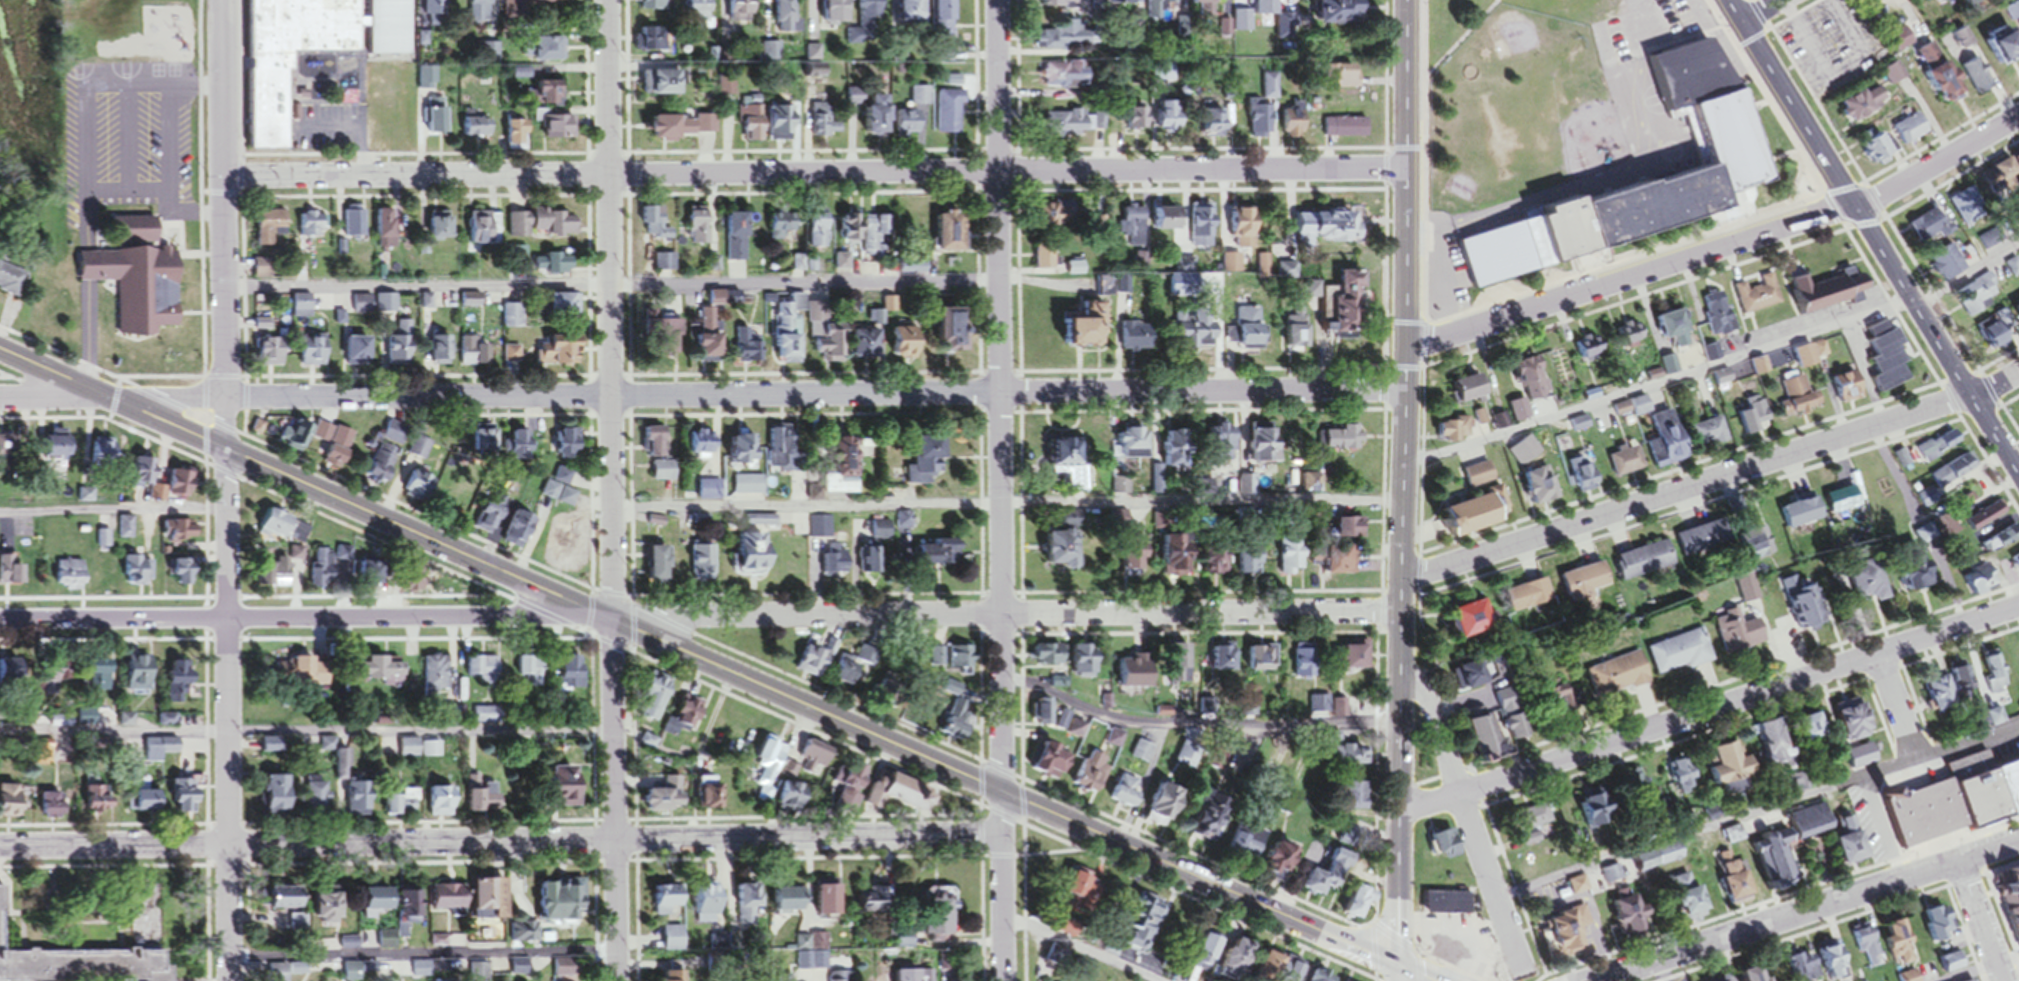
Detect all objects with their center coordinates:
building: (545, 3)
building: (1211, 3)
building: (1121, 4)
building: (1063, 6)
building: (653, 9)
building: (1158, 9)
building: (1261, 10)
road: (1761, 11)
building: (742, 12)
building: (871, 13)
building: (435, 14)
building: (482, 14)
building: (836, 14)
building: (913, 14)
building: (700, 15)
building: (1341, 15)
building: (787, 18)
building: (943, 19)
building: (389, 29)
building: (1068, 40)
building: (1902, 40)
building: (654, 43)
building: (2003, 46)
building: (552, 54)
building: (1348, 74)
building: (1973, 77)
building: (1067, 78)
building: (1949, 86)
building: (663, 87)
building: (726, 89)
building: (1269, 92)
building: (553, 96)
building: (920, 100)
building: (1866, 105)
building: (270, 112)
building: (391, 116)
building: (950, 116)
building: (439, 119)
building: (878, 120)
building: (1171, 120)
building: (1137, 122)
building: (753, 124)
building: (1261, 124)
building: (824, 126)
building: (1294, 126)
building: (909, 127)
building: (1074, 127)
building: (1219, 127)
building: (560, 128)
building: (783, 128)
building: (479, 130)
building: (1346, 130)
building: (675, 132)
building: (519, 137)
building: (1728, 147)
building: (1876, 149)
road: (1937, 162)
road: (815, 172)
building: (2007, 172)
building: (1967, 210)
building: (1056, 218)
building: (1170, 222)
building: (653, 223)
building: (355, 226)
building: (556, 226)
building: (313, 227)
building: (388, 227)
building: (519, 227)
building: (782, 227)
building: (442, 228)
building: (698, 228)
building: (1129, 228)
building: (1203, 228)
building: (1329, 228)
building: (270, 229)
building: (849, 229)
building: (1927, 229)
building: (1240, 230)
building: (484, 231)
building: (135, 232)
building: (819, 232)
building: (875, 235)
building: (953, 235)
road: (1873, 238)
building: (737, 240)
building: (1045, 259)
building: (665, 265)
building: (1948, 265)
building: (553, 266)
building: (913, 267)
building: (2012, 271)
road: (1629, 276)
building: (12, 283)
road: (612, 286)
building: (140, 290)
building: (1827, 291)
road: (201, 297)
building: (1975, 297)
building: (1758, 298)
building: (472, 303)
building: (386, 306)
building: (567, 308)
building: (1345, 308)
building: (302, 309)
building: (1719, 314)
building: (513, 317)
building: (876, 320)
building: (1674, 327)
building: (1085, 328)
building: (955, 330)
building: (1200, 332)
building: (1998, 332)
building: (788, 333)
building: (1299, 334)
building: (711, 335)
building: (664, 339)
building: (1137, 339)
building: (1254, 340)
building: (1632, 341)
building: (907, 344)
building: (829, 345)
building: (869, 346)
building: (399, 349)
building: (747, 349)
building: (1592, 349)
building: (359, 352)
building: (442, 352)
building: (563, 353)
building: (273, 354)
building: (314, 354)
building: (473, 355)
building: (514, 356)
building: (1806, 358)
building: (1889, 359)
road: (1716, 365)
building: (1534, 381)
road: (1994, 384)
building: (1474, 390)
building: (1850, 390)
road: (702, 395)
building: (1802, 397)
building: (1520, 413)
building: (1749, 424)
building: (1579, 428)
building: (1456, 432)
building: (301, 436)
building: (1711, 436)
building: (1339, 441)
building: (487, 442)
building: (1668, 443)
building: (569, 445)
building: (703, 445)
building: (1134, 445)
building: (1222, 445)
building: (657, 446)
building: (1268, 446)
building: (1938, 448)
building: (7, 449)
building: (58, 450)
building: (420, 451)
building: (339, 452)
building: (1177, 452)
building: (790, 453)
building: (742, 454)
building: (104, 455)
building: (1524, 455)
building: (1071, 457)
building: (929, 461)
building: (1626, 464)
building: (383, 468)
building: (847, 471)
building: (144, 473)
building: (664, 474)
building: (1952, 474)
building: (1480, 478)
building: (1583, 478)
road: (1405, 482)
building: (181, 486)
building: (1121, 489)
building: (1542, 489)
road: (1687, 489)
road: (227, 490)
building: (559, 490)
road: (612, 490)
road: (1001, 490)
building: (420, 491)
building: (710, 493)
building: (1925, 501)
building: (1843, 502)
road: (1008, 510)
building: (1802, 514)
road: (113, 516)
building: (1478, 517)
building: (1984, 519)
building: (276, 526)
building: (1944, 529)
building: (820, 530)
building: (1354, 530)
building: (523, 532)
building: (568, 541)
building: (1702, 542)
building: (1756, 546)
building: (1063, 551)
building: (755, 555)
building: (940, 556)
building: (1293, 556)
building: (1179, 558)
building: (872, 560)
building: (295, 562)
building: (837, 562)
building: (1136, 563)
building: (1236, 563)
building: (1345, 563)
building: (1645, 563)
building: (704, 565)
building: (662, 566)
building: (1919, 566)
building: (2015, 566)
building: (139, 574)
building: (11, 575)
building: (183, 576)
building: (71, 577)
building: (373, 578)
building: (1980, 583)
building: (415, 584)
building: (1584, 584)
building: (1869, 585)
building: (1746, 590)
building: (1530, 598)
building: (1802, 607)
road: (1007, 613)
road: (306, 617)
building: (1474, 622)
building: (1738, 633)
building: (1679, 655)
road: (698, 657)
building: (1050, 657)
building: (950, 659)
building: (1356, 659)
building: (1265, 660)
building: (1087, 663)
building: (1306, 664)
building: (815, 665)
building: (300, 672)
building: (854, 672)
building: (484, 673)
building: (530, 673)
building: (381, 674)
building: (140, 675)
building: (1993, 675)
building: (573, 676)
building: (1137, 677)
building: (1475, 677)
building: (101, 678)
building: (436, 678)
building: (1616, 678)
building: (14, 679)
building: (55, 679)
building: (179, 687)
building: (1942, 694)
building: (893, 695)
building: (656, 700)
building: (1321, 707)
road: (1895, 708)
road: (1711, 711)
building: (1047, 715)
building: (87, 720)
building: (1995, 720)
building: (681, 721)
building: (1856, 721)
building: (61, 726)
road: (1183, 726)
building: (1513, 726)
building: (1816, 730)
building: (954, 732)
road: (306, 736)
building: (1487, 740)
building: (1115, 742)
building: (159, 751)
building: (409, 751)
building: (1144, 755)
building: (773, 756)
building: (1189, 757)
building: (1360, 758)
building: (1754, 759)
building: (1863, 759)
building: (815, 762)
building: (1056, 764)
building: (1681, 775)
building: (1094, 776)
building: (569, 791)
building: (853, 792)
building: (1127, 794)
building: (903, 797)
building: (276, 798)
building: (317, 798)
building: (670, 798)
building: (188, 799)
building: (712, 799)
building: (795, 799)
building: (1959, 799)
building: (1357, 800)
building: (148, 801)
building: (361, 801)
building: (486, 802)
building: (442, 803)
building: (402, 804)
building: (12, 805)
building: (1167, 806)
building: (56, 808)
building: (106, 808)
road: (1758, 812)
building: (1596, 815)
parking lot: (1875, 819)
road: (1469, 820)
building: (1535, 820)
building: (1734, 838)
road: (502, 842)
building: (1249, 845)
building: (1448, 848)
building: (1772, 854)
building: (1661, 860)
building: (1284, 861)
building: (1610, 878)
building: (1331, 880)
building: (1736, 880)
building: (1083, 890)
building: (1578, 890)
building: (290, 901)
building: (450, 901)
building: (830, 901)
building: (1692, 901)
building: (493, 902)
building: (563, 903)
building: (792, 903)
building: (669, 904)
building: (873, 904)
building: (710, 905)
building: (748, 906)
building: (1447, 907)
building: (330, 908)
road: (1801, 912)
building: (940, 917)
building: (1637, 919)
road: (1979, 920)
building: (410, 923)
building: (300, 925)
building: (1144, 927)
building: (2011, 931)
building: (1571, 935)
building: (674, 942)
building: (1902, 946)
building: (1868, 948)
road: (1077, 950)
building: (1208, 955)
building: (1240, 961)
building: (77, 963)
building: (811, 964)
traffic signals: (1398, 964)
building: (1819, 965)
road: (423, 966)
building: (1956, 966)
building: (1276, 968)
road: (1986, 969)
building: (520, 970)
building: (684, 971)
building: (1299, 972)
road: (1398, 972)
road: (1416, 972)
building: (917, 977)
building: (1759, 977)
building: (840, 978)
building: (1323, 978)
building: (1910, 978)
building: (861, 980)

